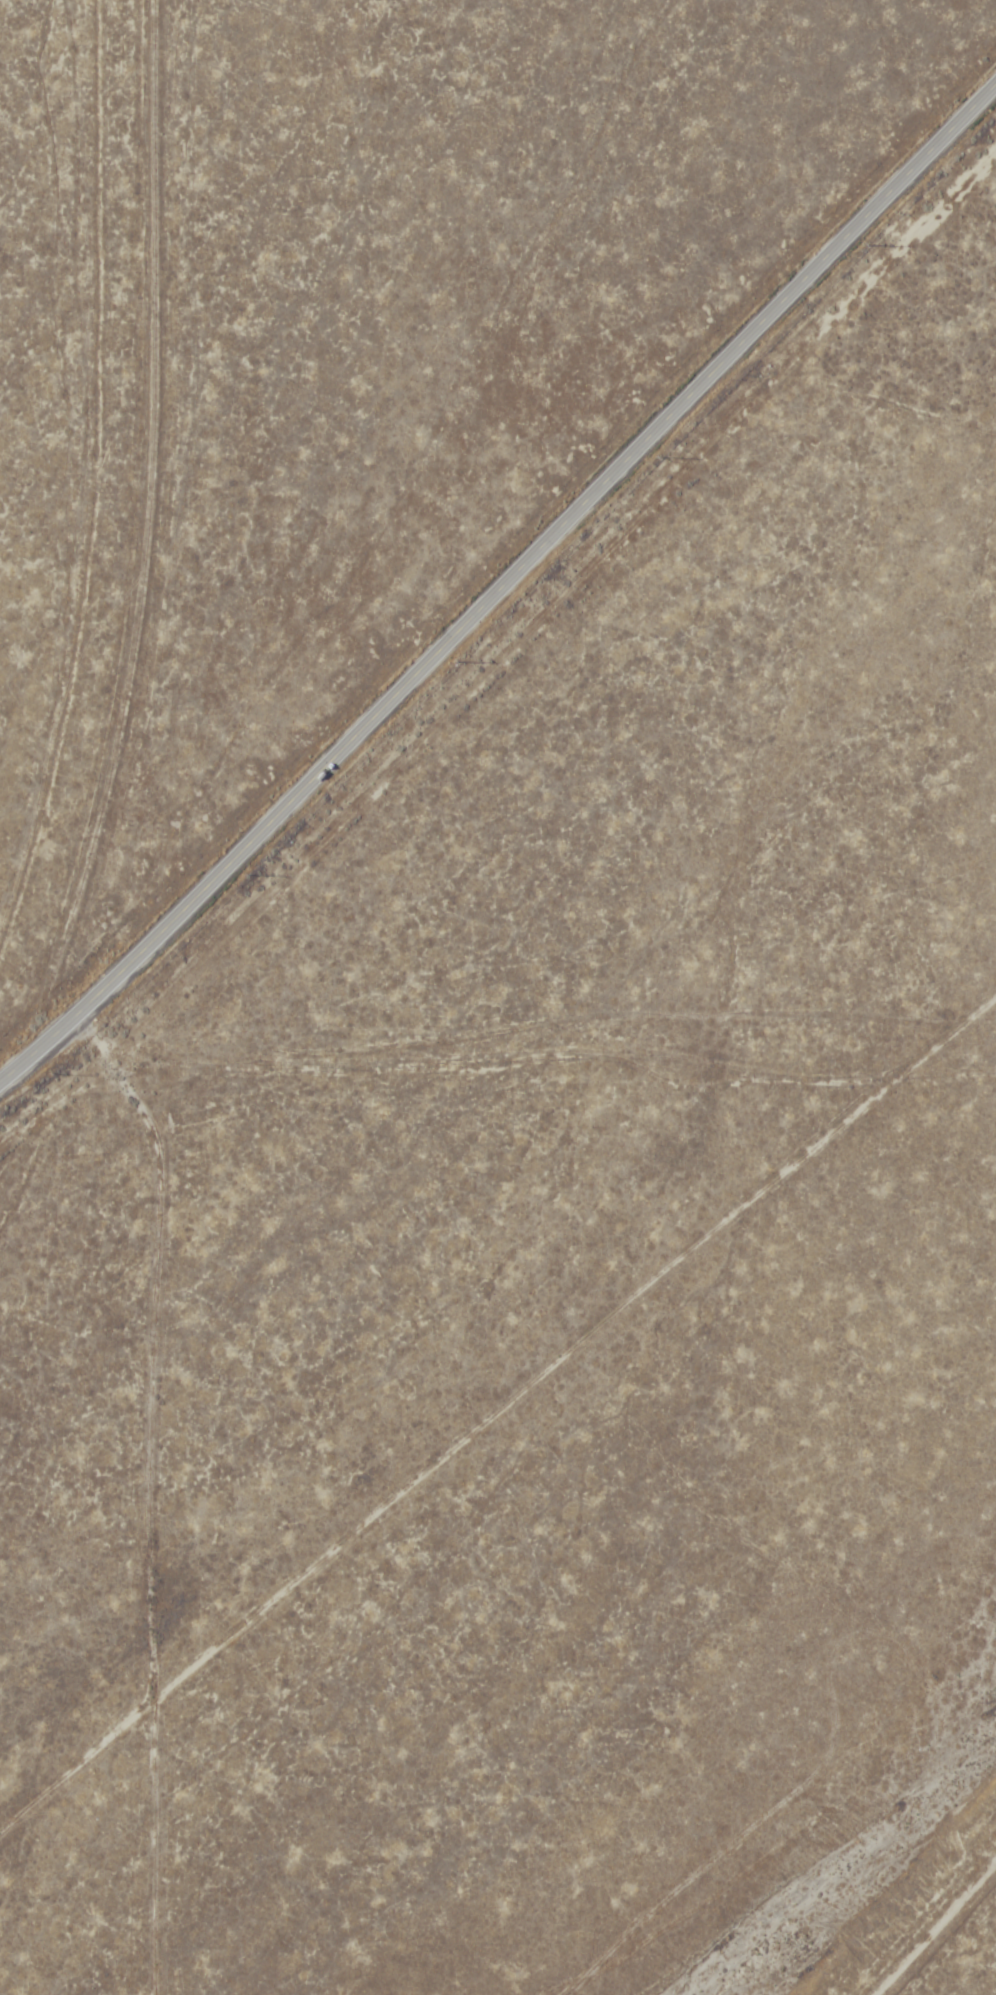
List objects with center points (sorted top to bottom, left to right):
road: (509, 596)
road: (491, 1407)
road: (945, 1939)

